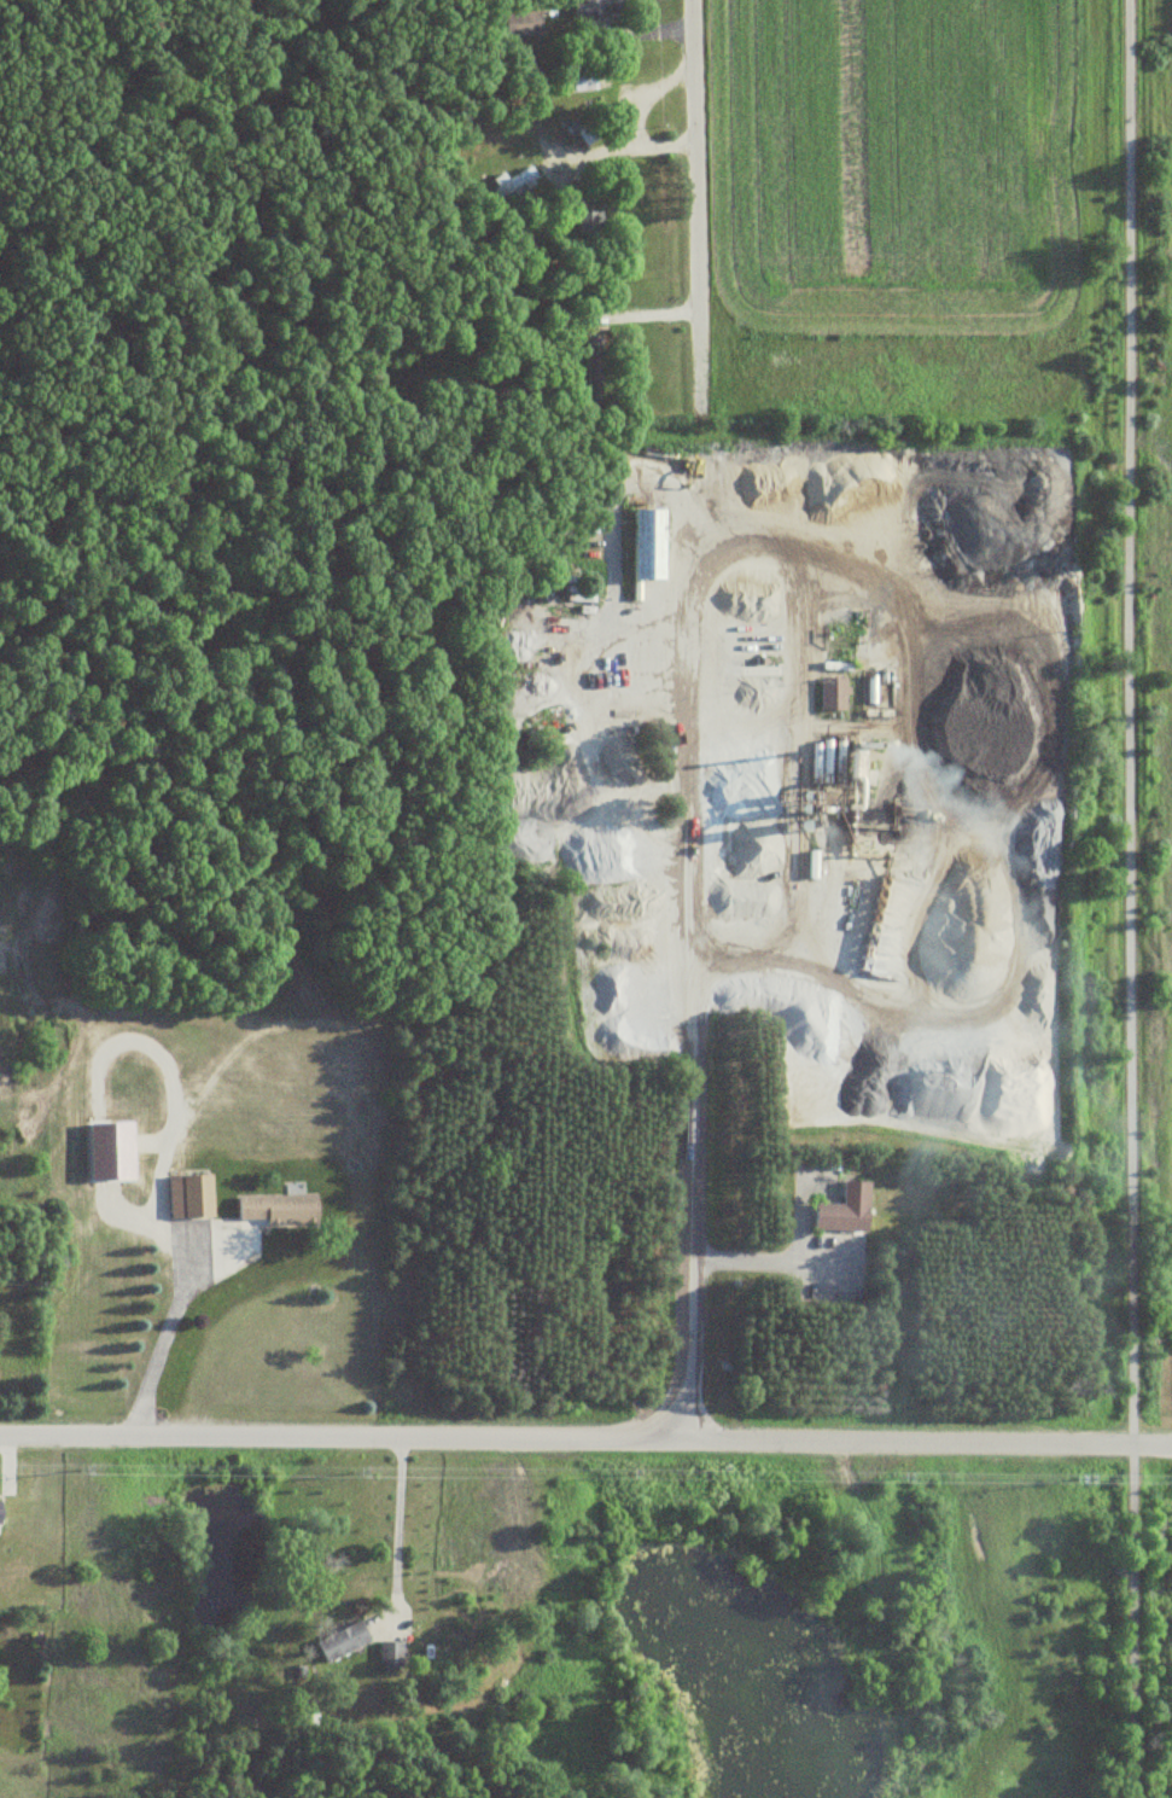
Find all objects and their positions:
building: (602, 6)
building: (590, 355)
road: (700, 444)
building: (647, 545)
building: (518, 645)
building: (830, 693)
road: (1126, 898)
road: (696, 1160)
building: (188, 1198)
building: (275, 1210)
building: (842, 1211)
road: (585, 1432)
building: (339, 1641)
building: (389, 1656)

